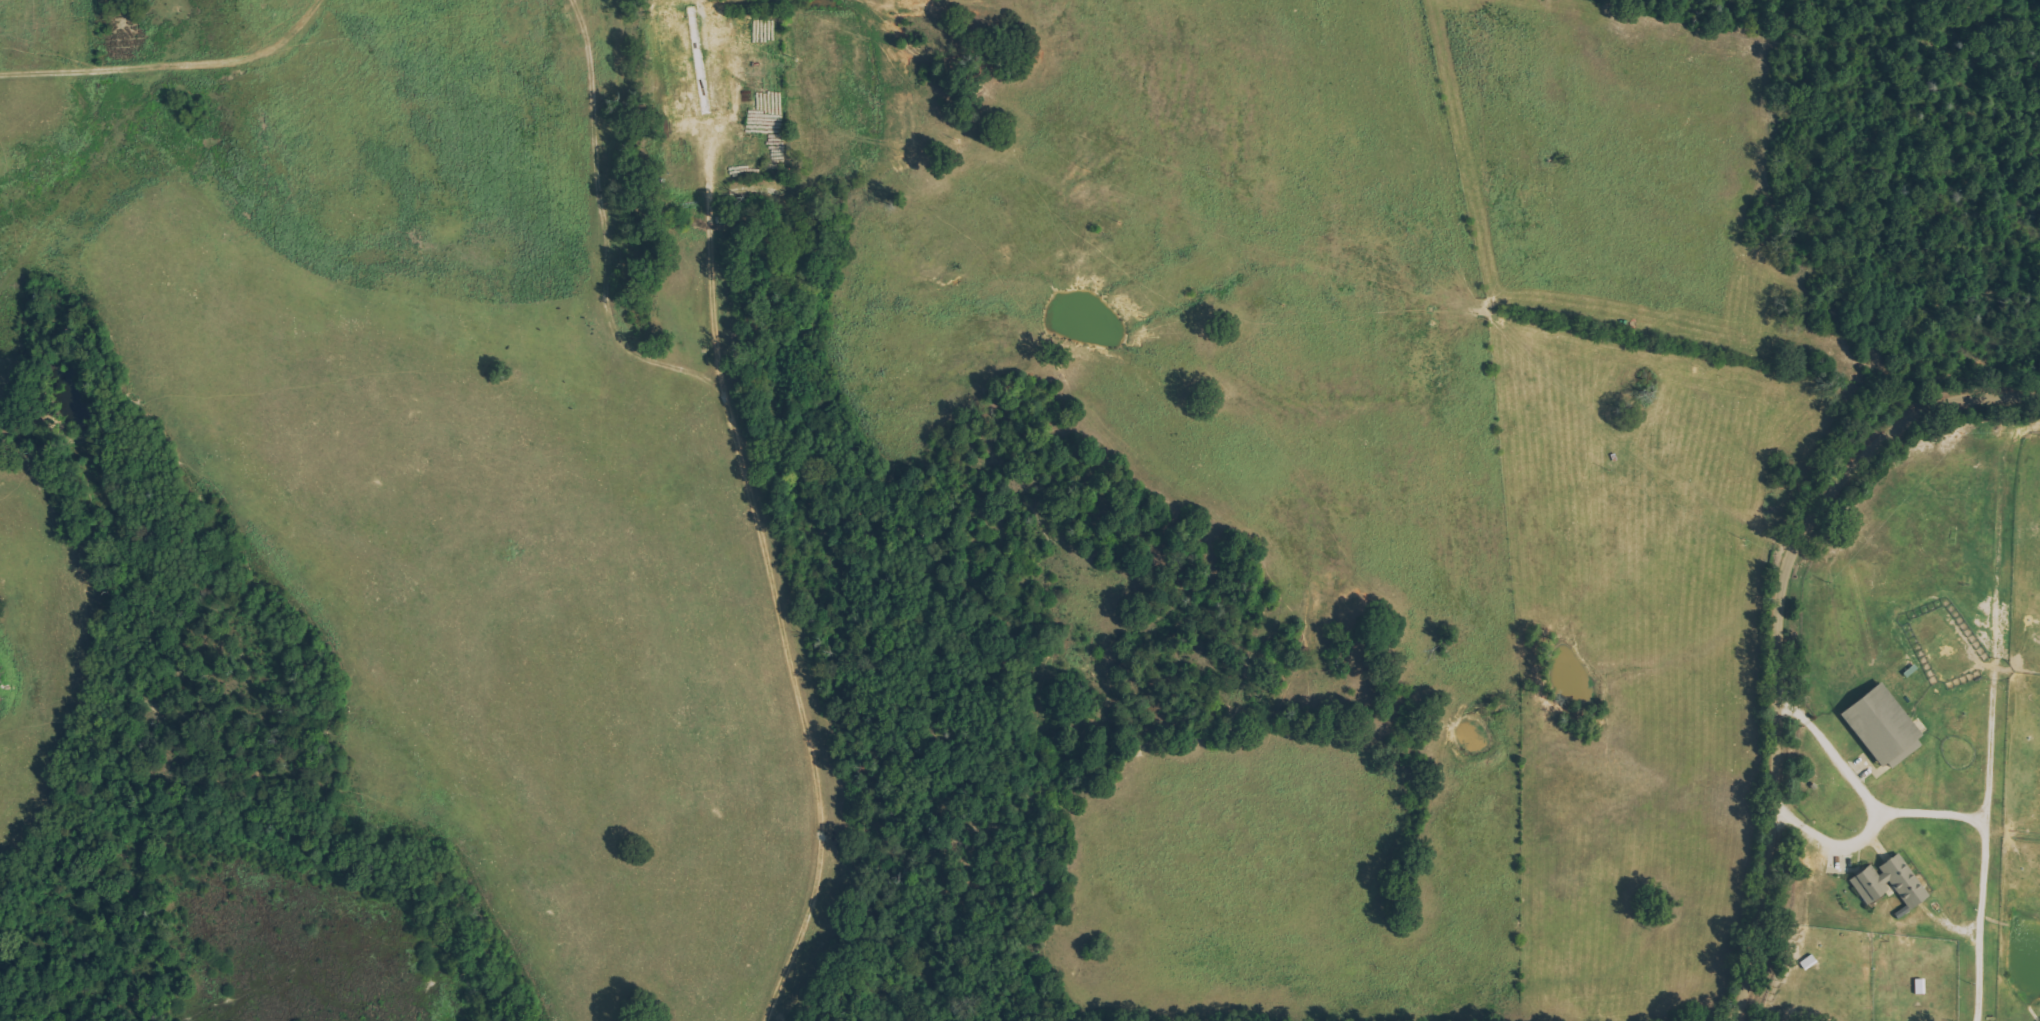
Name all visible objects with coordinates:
road: (1780, 633)
building: (1876, 728)
road: (1870, 805)
building: (1885, 880)

